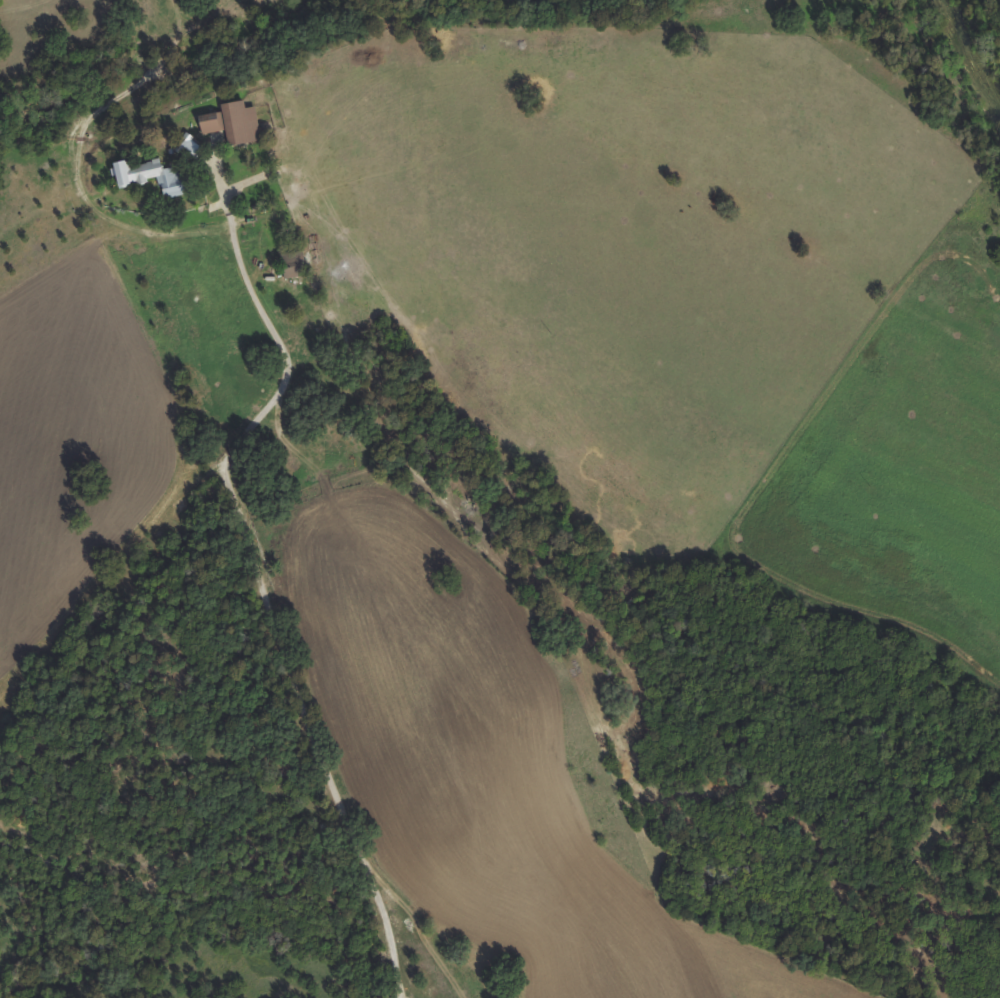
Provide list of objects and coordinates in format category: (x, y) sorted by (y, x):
building: (209, 123)
building: (239, 123)
building: (150, 177)
building: (292, 264)
road: (262, 601)

